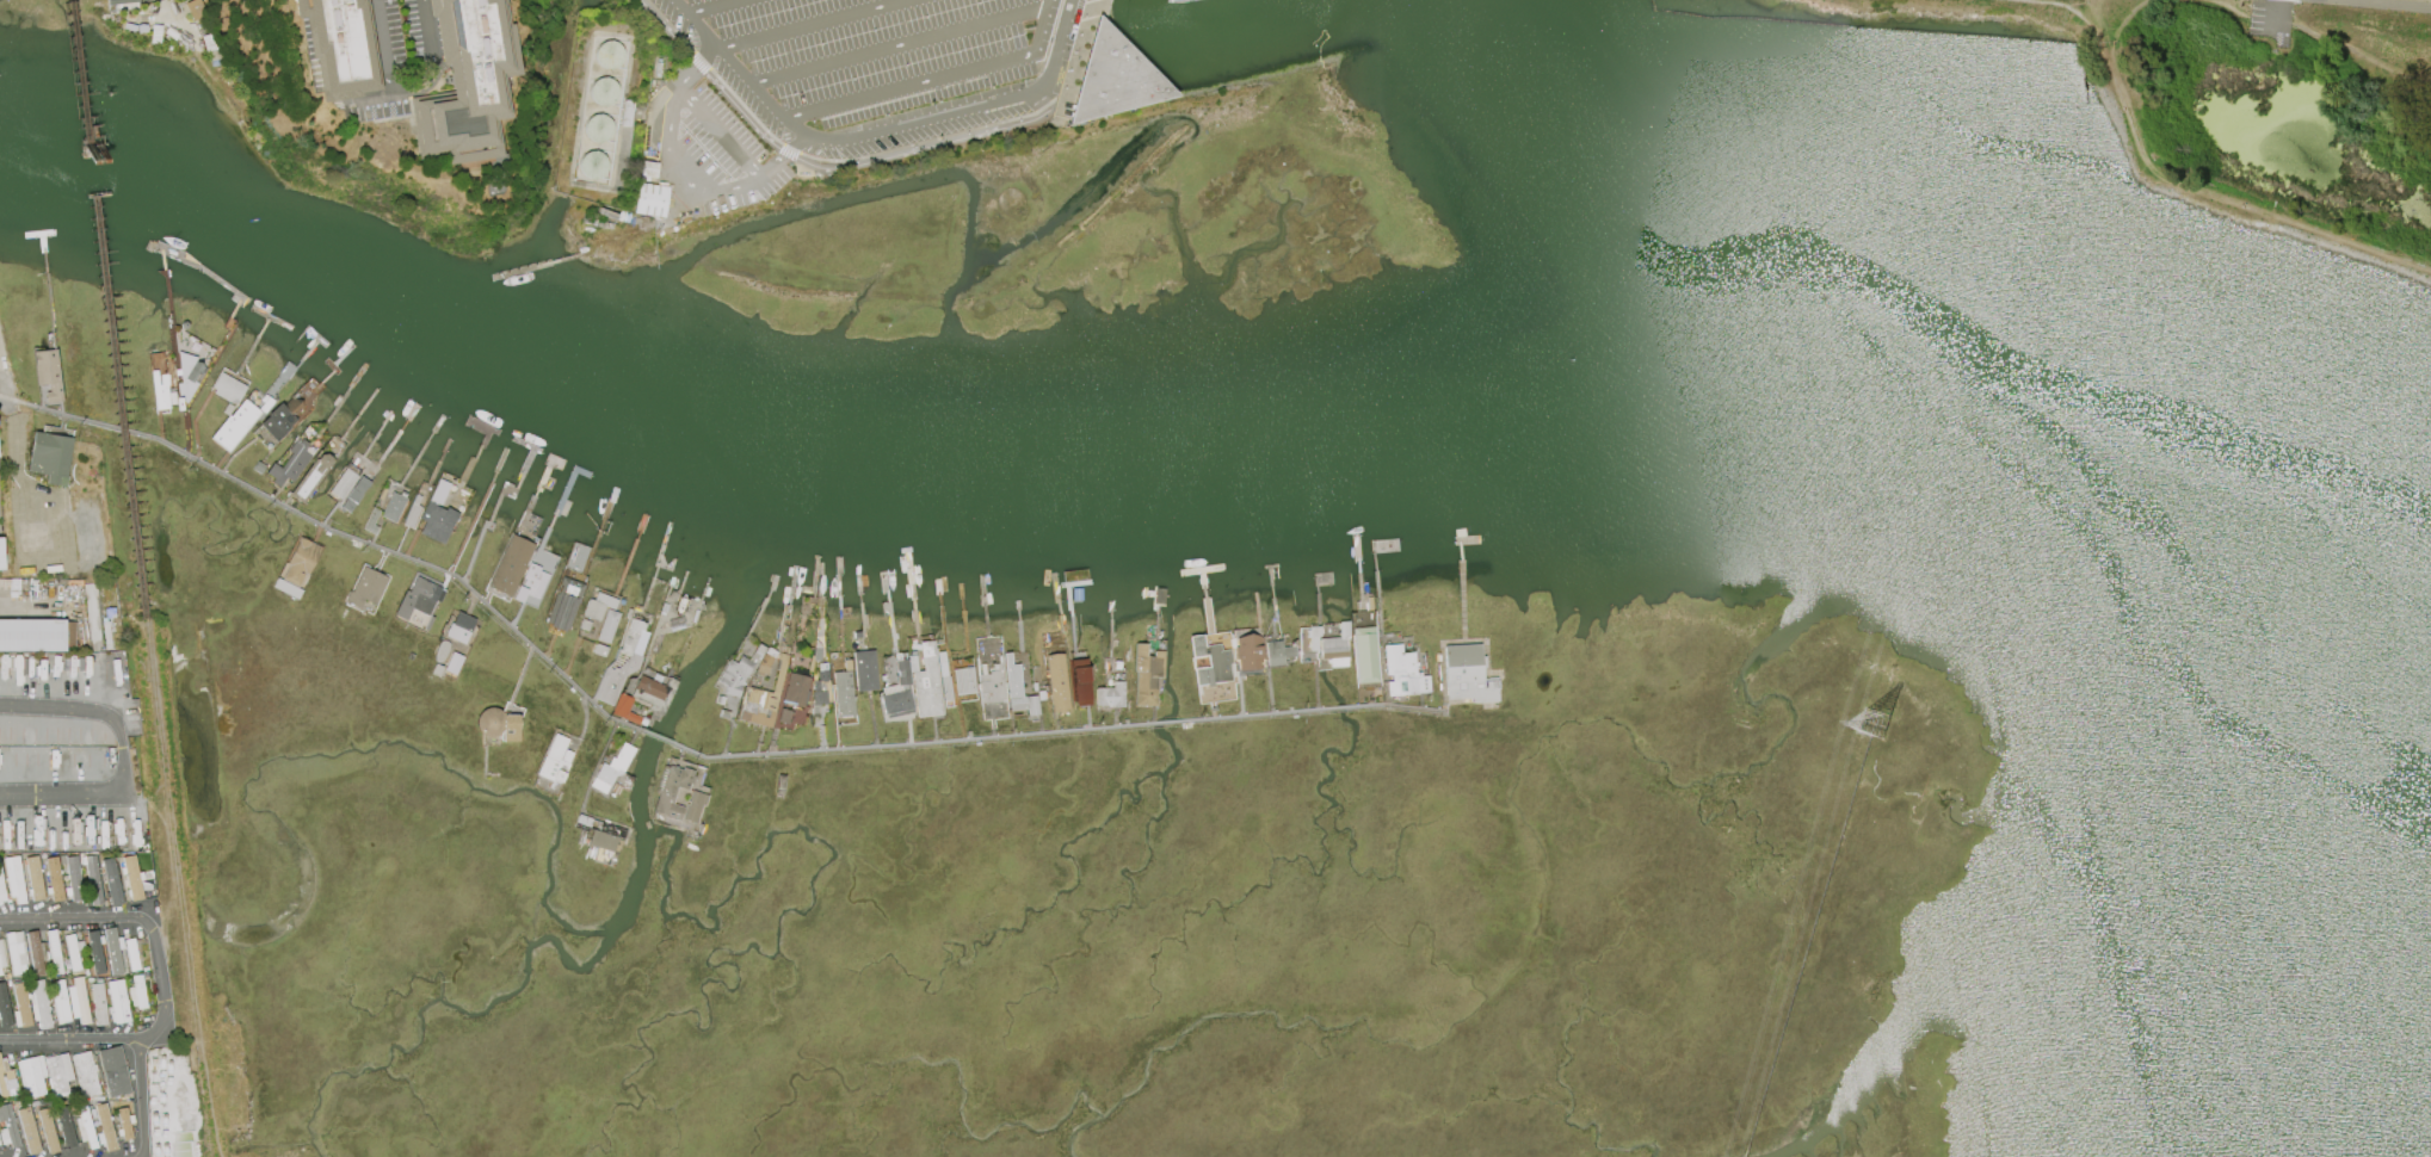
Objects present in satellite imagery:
building: (118, 1)
road: (2374, 4)
road: (710, 7)
road: (2046, 7)
building: (193, 10)
road: (2282, 13)
road: (2244, 17)
parking lot: (2270, 20)
road: (809, 25)
road: (896, 45)
building: (333, 47)
road: (377, 47)
road: (1084, 48)
road: (2356, 52)
building: (607, 55)
storage tank: (607, 55)
road: (426, 60)
pier: (1119, 63)
parking lot: (864, 66)
road: (930, 79)
building: (1112, 79)
railway: (79, 81)
building: (461, 81)
building: (603, 92)
storage tank: (603, 92)
road: (362, 98)
park: (2287, 110)
building: (597, 128)
storage tank: (597, 128)
road: (876, 131)
road: (718, 134)
building: (592, 165)
storage tank: (592, 165)
building: (647, 169)
road: (825, 169)
road: (681, 173)
railway: (91, 178)
road: (2204, 191)
building: (649, 199)
building: (47, 373)
building: (187, 375)
building: (227, 388)
building: (159, 391)
river: (720, 397)
railway: (118, 407)
building: (280, 419)
building: (234, 426)
building: (50, 457)
building: (289, 464)
building: (258, 468)
building: (309, 478)
road: (25, 482)
building: (348, 487)
building: (393, 506)
building: (412, 513)
building: (437, 515)
building: (370, 522)
building: (0, 556)
building: (298, 562)
building: (510, 565)
building: (531, 583)
building: (365, 588)
building: (1074, 595)
building: (1159, 596)
building: (419, 600)
building: (563, 604)
road: (30, 605)
building: (597, 606)
building: (584, 625)
building: (606, 626)
building: (458, 627)
building: (36, 635)
building: (1335, 648)
building: (599, 650)
building: (439, 651)
building: (1277, 652)
building: (1247, 655)
building: (1365, 656)
building: (765, 661)
building: (1211, 662)
building: (621, 663)
building: (1116, 663)
building: (863, 670)
building: (739, 672)
building: (1402, 672)
building: (1146, 675)
building: (1467, 675)
building: (943, 678)
building: (963, 680)
building: (926, 682)
building: (1056, 682)
building: (1078, 683)
building: (991, 686)
building: (820, 687)
building: (795, 689)
building: (1017, 689)
building: (653, 693)
building: (896, 693)
building: (843, 694)
building: (1110, 695)
building: (763, 699)
building: (622, 705)
building: (723, 714)
building: (783, 716)
power tower: (1872, 723)
building: (496, 724)
road: (680, 751)
road: (125, 757)
building: (554, 760)
building: (611, 768)
building: (670, 790)
building: (680, 798)
building: (692, 806)
railway: (168, 831)
building: (600, 834)
building: (33, 878)
building: (14, 879)
building: (54, 879)
building: (73, 879)
building: (130, 879)
building: (92, 880)
building: (110, 881)
building: (1, 889)
building: (113, 951)
building: (16, 952)
building: (36, 952)
building: (73, 952)
building: (95, 952)
building: (54, 953)
building: (130, 954)
building: (1, 957)
building: (0, 973)
road: (162, 982)
building: (136, 994)
building: (60, 1002)
building: (78, 1002)
building: (116, 1002)
building: (39, 1004)
building: (98, 1004)
building: (21, 1007)
building: (4, 1008)
building: (113, 1071)
building: (86, 1074)
building: (58, 1075)
building: (31, 1076)
building: (6, 1078)
road: (141, 1099)
railway: (200, 1101)
building: (123, 1124)
building: (64, 1127)
building: (8, 1128)
building: (85, 1128)
building: (104, 1128)
building: (27, 1131)
building: (48, 1131)

